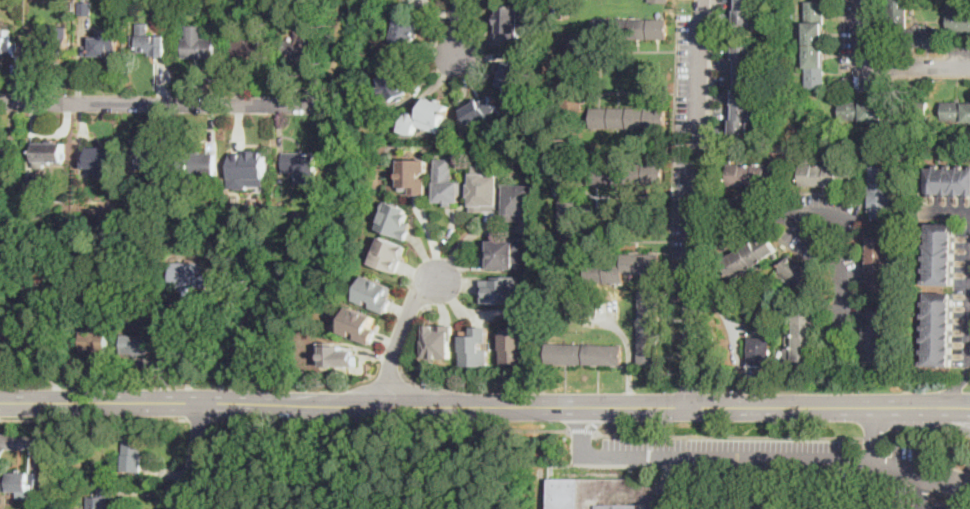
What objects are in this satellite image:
building: (659, 0)
building: (173, 2)
building: (15, 7)
building: (85, 8)
building: (899, 11)
building: (744, 12)
building: (959, 19)
building: (511, 22)
road: (460, 27)
building: (630, 29)
building: (8, 31)
building: (405, 35)
building: (926, 36)
building: (54, 43)
building: (198, 44)
building: (815, 44)
building: (6, 45)
building: (151, 45)
building: (102, 46)
building: (250, 48)
building: (298, 49)
building: (30, 50)
road: (885, 66)
building: (575, 72)
building: (513, 74)
building: (395, 86)
building: (743, 90)
road: (160, 102)
road: (710, 108)
building: (482, 110)
building: (863, 111)
building: (956, 111)
building: (427, 117)
building: (627, 117)
building: (50, 152)
building: (7, 157)
building: (100, 158)
building: (148, 159)
building: (198, 163)
building: (302, 165)
building: (248, 168)
building: (626, 173)
building: (754, 174)
building: (828, 174)
building: (414, 175)
building: (949, 181)
building: (447, 182)
building: (486, 188)
building: (882, 192)
building: (36, 199)
building: (520, 201)
road: (697, 202)
road: (953, 209)
building: (132, 211)
building: (295, 215)
building: (117, 217)
building: (54, 219)
building: (396, 219)
building: (569, 219)
road: (706, 229)
road: (825, 230)
building: (179, 233)
building: (390, 253)
building: (503, 253)
building: (941, 254)
building: (248, 256)
building: (749, 256)
building: (880, 263)
building: (622, 268)
building: (189, 273)
building: (799, 273)
road: (704, 278)
building: (501, 289)
building: (377, 293)
building: (361, 324)
building: (649, 327)
building: (729, 328)
building: (940, 330)
road: (401, 333)
building: (789, 336)
building: (805, 336)
building: (875, 336)
building: (39, 340)
building: (439, 340)
road: (969, 340)
building: (2, 341)
building: (94, 342)
building: (137, 344)
road: (409, 344)
building: (515, 344)
building: (475, 346)
building: (1, 348)
road: (185, 350)
building: (760, 351)
building: (586, 354)
building: (340, 355)
road: (628, 355)
road: (949, 392)
road: (291, 403)
road: (594, 405)
road: (649, 405)
road: (785, 406)
road: (924, 406)
road: (924, 417)
road: (94, 418)
road: (199, 419)
road: (582, 420)
road: (593, 420)
road: (390, 428)
road: (582, 429)
road: (875, 432)
road: (728, 436)
road: (875, 438)
road: (931, 444)
road: (581, 446)
road: (649, 450)
building: (132, 454)
parking lot: (763, 454)
road: (196, 457)
road: (752, 457)
park: (582, 467)
road: (271, 470)
road: (946, 475)
building: (21, 483)
road: (869, 484)
building: (47, 486)
road: (921, 489)
building: (570, 492)
building: (617, 495)
building: (102, 498)
building: (60, 499)
parking lot: (885, 504)
building: (816, 508)

